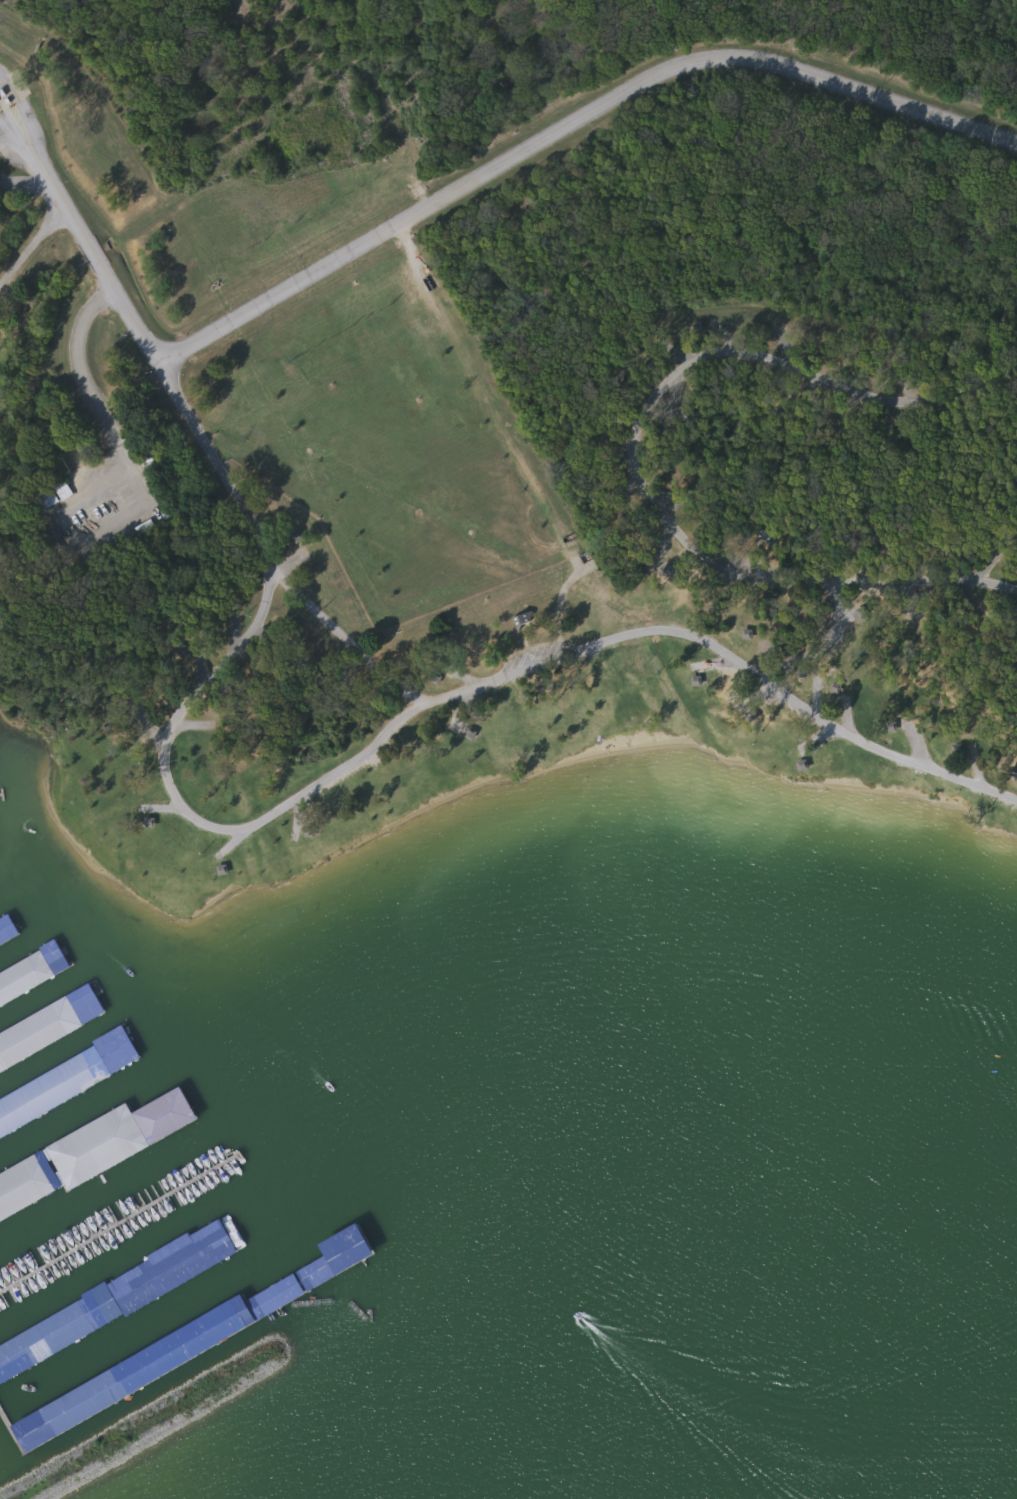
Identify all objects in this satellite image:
road: (575, 129)
road: (34, 242)
park: (499, 408)
road: (634, 450)
road: (140, 481)
building: (59, 497)
building: (772, 538)
building: (526, 621)
road: (349, 639)
road: (826, 650)
road: (230, 834)
building: (10, 936)
building: (27, 986)
building: (40, 1037)
building: (74, 1084)
building: (125, 1137)
building: (29, 1189)
building: (242, 1236)
building: (180, 1266)
building: (250, 1312)
building: (67, 1417)
road: (13, 1431)

